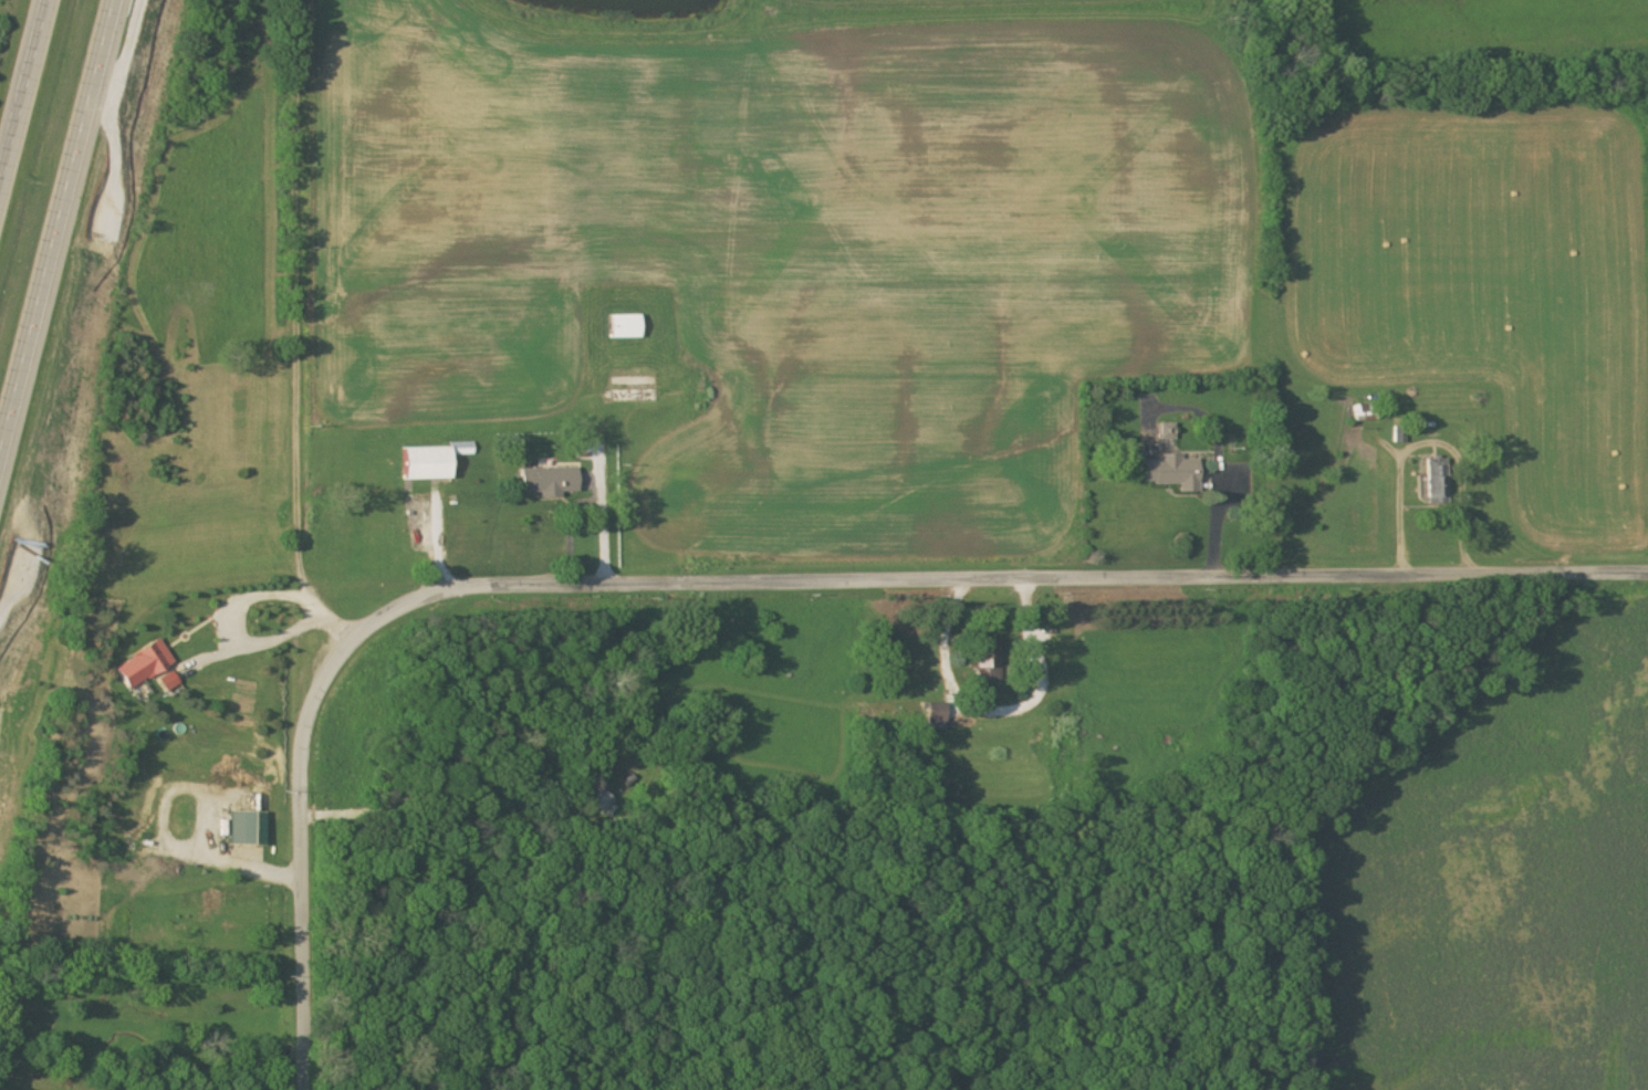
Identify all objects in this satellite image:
road: (20, 78)
road: (54, 211)
building: (623, 327)
building: (1165, 432)
building: (462, 449)
building: (425, 464)
building: (1169, 473)
building: (547, 482)
building: (1435, 482)
road: (994, 579)
road: (237, 642)
building: (143, 667)
building: (168, 683)
building: (936, 719)
building: (247, 829)
road: (300, 855)

